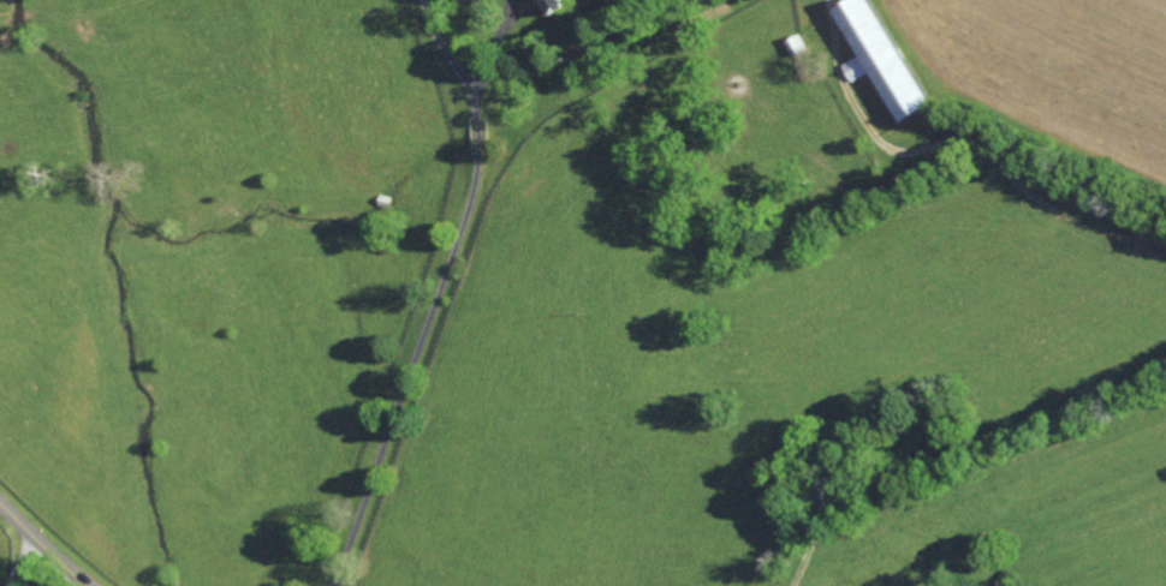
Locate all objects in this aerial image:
building: (557, 6)
building: (882, 58)
road: (436, 291)
road: (41, 546)
road: (19, 561)
road: (804, 564)

